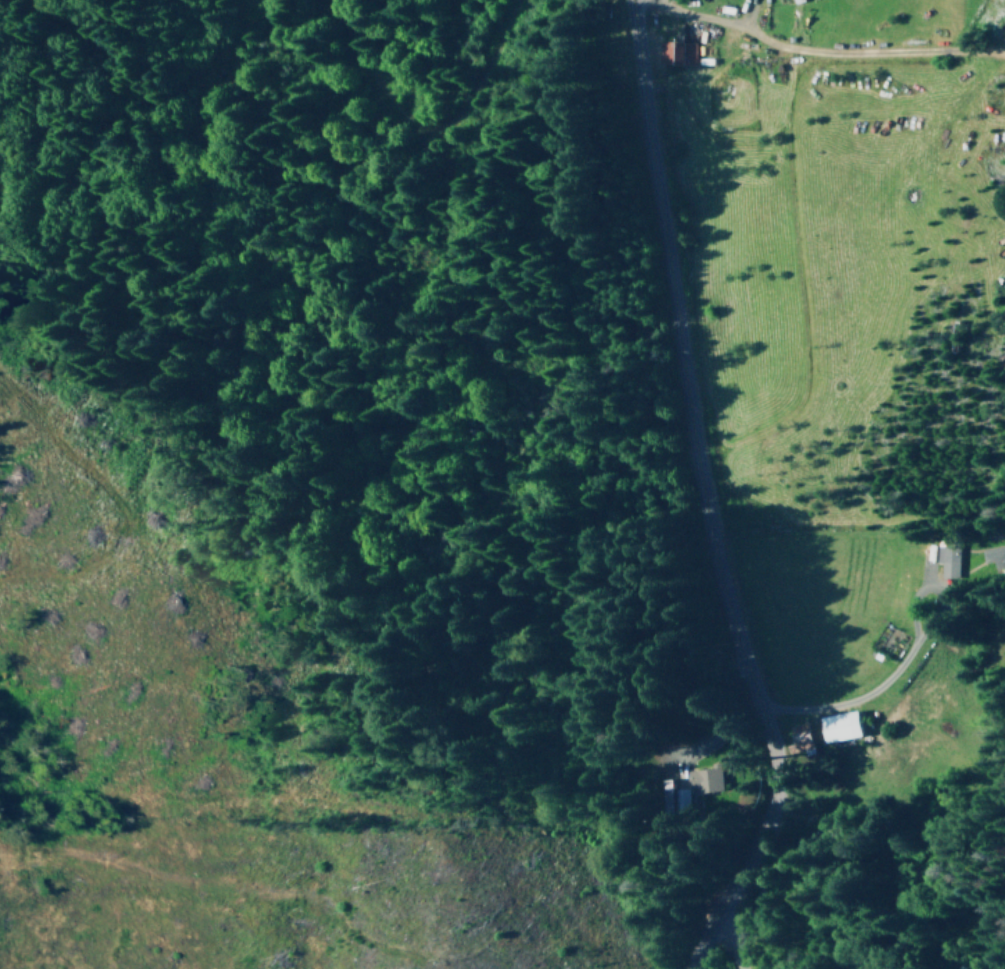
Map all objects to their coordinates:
building: (675, 51)
road: (706, 492)
building: (994, 554)
building: (838, 725)
building: (798, 737)
building: (690, 787)
road: (726, 955)

